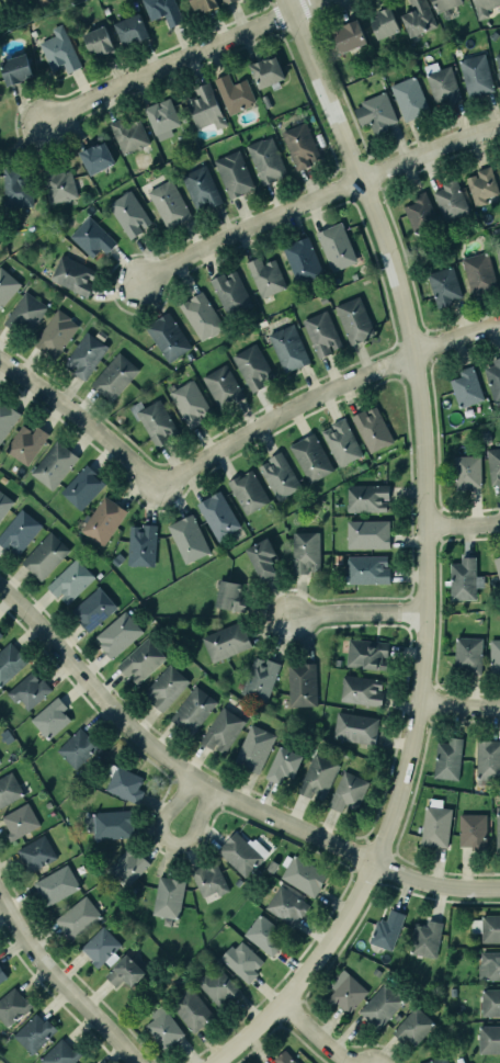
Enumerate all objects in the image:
building: (225, 0)
building: (43, 1)
building: (204, 3)
building: (443, 3)
building: (482, 7)
building: (162, 11)
building: (417, 16)
building: (384, 23)
building: (130, 30)
building: (348, 35)
building: (99, 42)
building: (60, 50)
road: (177, 61)
building: (498, 63)
building: (15, 69)
building: (265, 69)
building: (474, 73)
building: (440, 82)
building: (232, 92)
building: (408, 97)
building: (205, 108)
building: (374, 112)
building: (161, 118)
building: (128, 134)
building: (298, 144)
building: (96, 158)
building: (264, 159)
building: (499, 169)
building: (232, 173)
building: (480, 184)
building: (58, 185)
building: (14, 186)
building: (200, 186)
road: (311, 197)
building: (448, 199)
building: (168, 202)
building: (129, 214)
building: (92, 237)
building: (334, 247)
building: (498, 251)
building: (299, 258)
building: (478, 272)
building: (71, 274)
building: (264, 275)
building: (5, 284)
building: (442, 285)
building: (228, 291)
building: (25, 313)
building: (200, 317)
building: (351, 318)
building: (320, 331)
building: (55, 335)
building: (167, 335)
building: (285, 346)
building: (84, 357)
building: (250, 364)
building: (113, 375)
building: (493, 378)
building: (465, 386)
building: (221, 387)
road: (323, 394)
building: (187, 404)
building: (4, 412)
building: (152, 418)
road: (80, 423)
building: (370, 427)
building: (24, 441)
building: (338, 441)
building: (311, 455)
building: (53, 464)
building: (493, 465)
building: (467, 472)
building: (275, 474)
building: (82, 487)
building: (245, 490)
building: (366, 496)
building: (4, 507)
building: (217, 514)
building: (102, 520)
road: (465, 523)
building: (19, 533)
building: (366, 533)
building: (186, 538)
building: (136, 542)
building: (302, 547)
road: (431, 553)
building: (260, 554)
building: (45, 557)
building: (366, 567)
building: (497, 567)
building: (464, 579)
building: (70, 581)
building: (225, 591)
road: (355, 610)
building: (92, 611)
building: (0, 636)
building: (117, 636)
building: (225, 641)
building: (466, 653)
building: (366, 654)
building: (493, 654)
building: (10, 663)
building: (140, 663)
building: (257, 675)
building: (299, 682)
building: (27, 689)
building: (164, 689)
building: (361, 690)
road: (461, 706)
building: (192, 712)
building: (52, 719)
building: (355, 728)
building: (221, 731)
building: (77, 747)
building: (253, 748)
road: (162, 757)
building: (446, 757)
building: (487, 760)
building: (282, 767)
building: (122, 779)
building: (318, 779)
building: (8, 788)
building: (346, 793)
building: (19, 819)
building: (433, 822)
building: (109, 823)
building: (469, 826)
building: (497, 828)
road: (167, 843)
building: (236, 850)
building: (35, 851)
building: (130, 860)
building: (302, 875)
building: (207, 880)
building: (55, 884)
road: (433, 884)
building: (166, 900)
building: (282, 901)
building: (77, 918)
building: (489, 925)
building: (387, 926)
building: (263, 932)
building: (423, 932)
building: (98, 945)
building: (237, 960)
building: (488, 962)
building: (124, 966)
building: (1, 972)
road: (61, 986)
building: (216, 987)
building: (344, 994)
building: (489, 1000)
building: (10, 1004)
building: (378, 1005)
building: (189, 1007)
building: (162, 1025)
building: (411, 1026)
building: (31, 1031)
road: (312, 1034)
building: (489, 1039)
building: (59, 1052)
building: (281, 1058)
building: (430, 1058)

